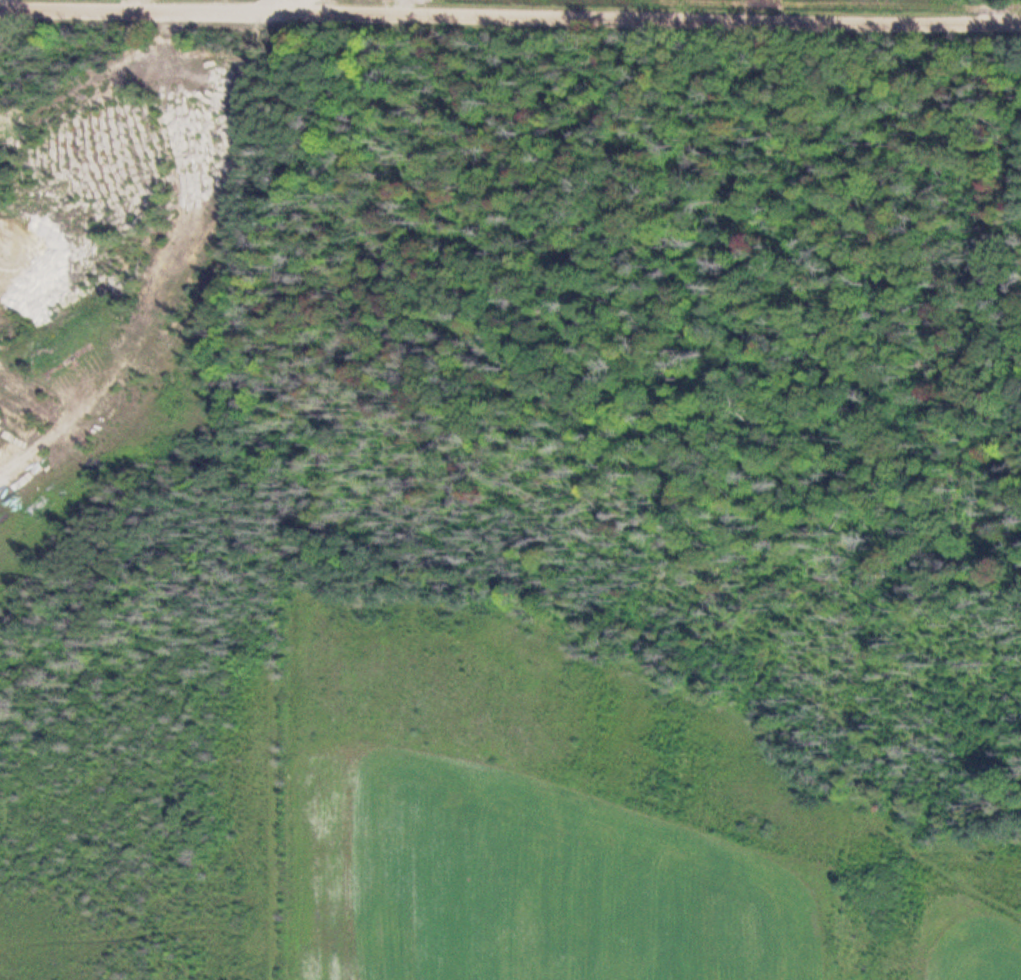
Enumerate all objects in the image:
road: (510, 17)

